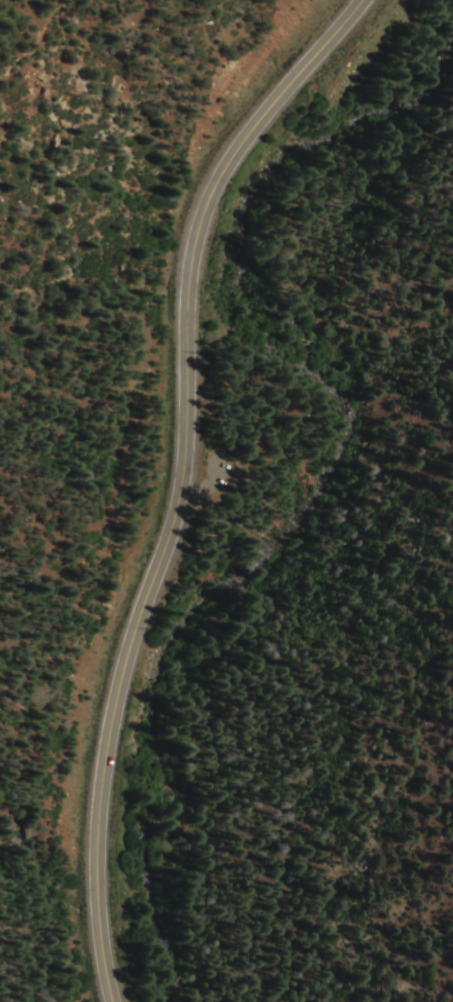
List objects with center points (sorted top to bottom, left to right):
road: (180, 479)

